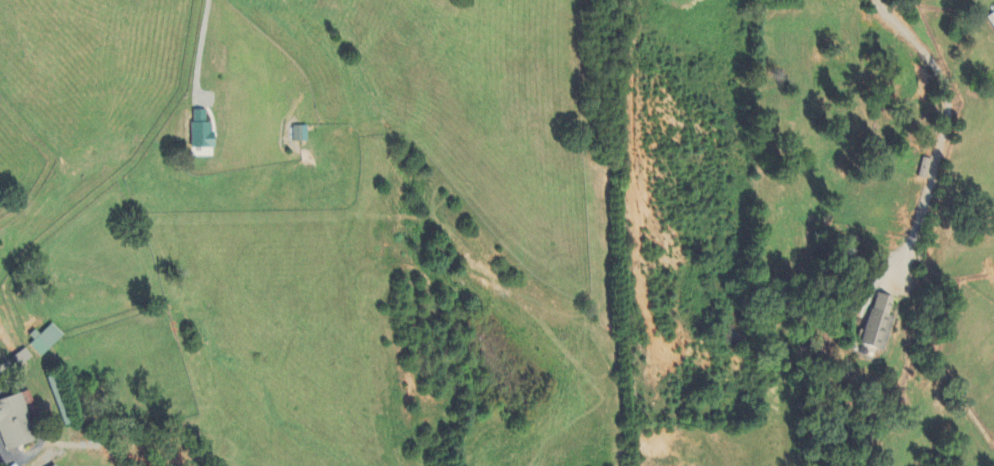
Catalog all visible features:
building: (990, 22)
road: (201, 43)
building: (200, 132)
building: (298, 135)
road: (944, 135)
building: (922, 170)
building: (874, 325)
building: (47, 341)
building: (17, 422)
road: (1, 454)

